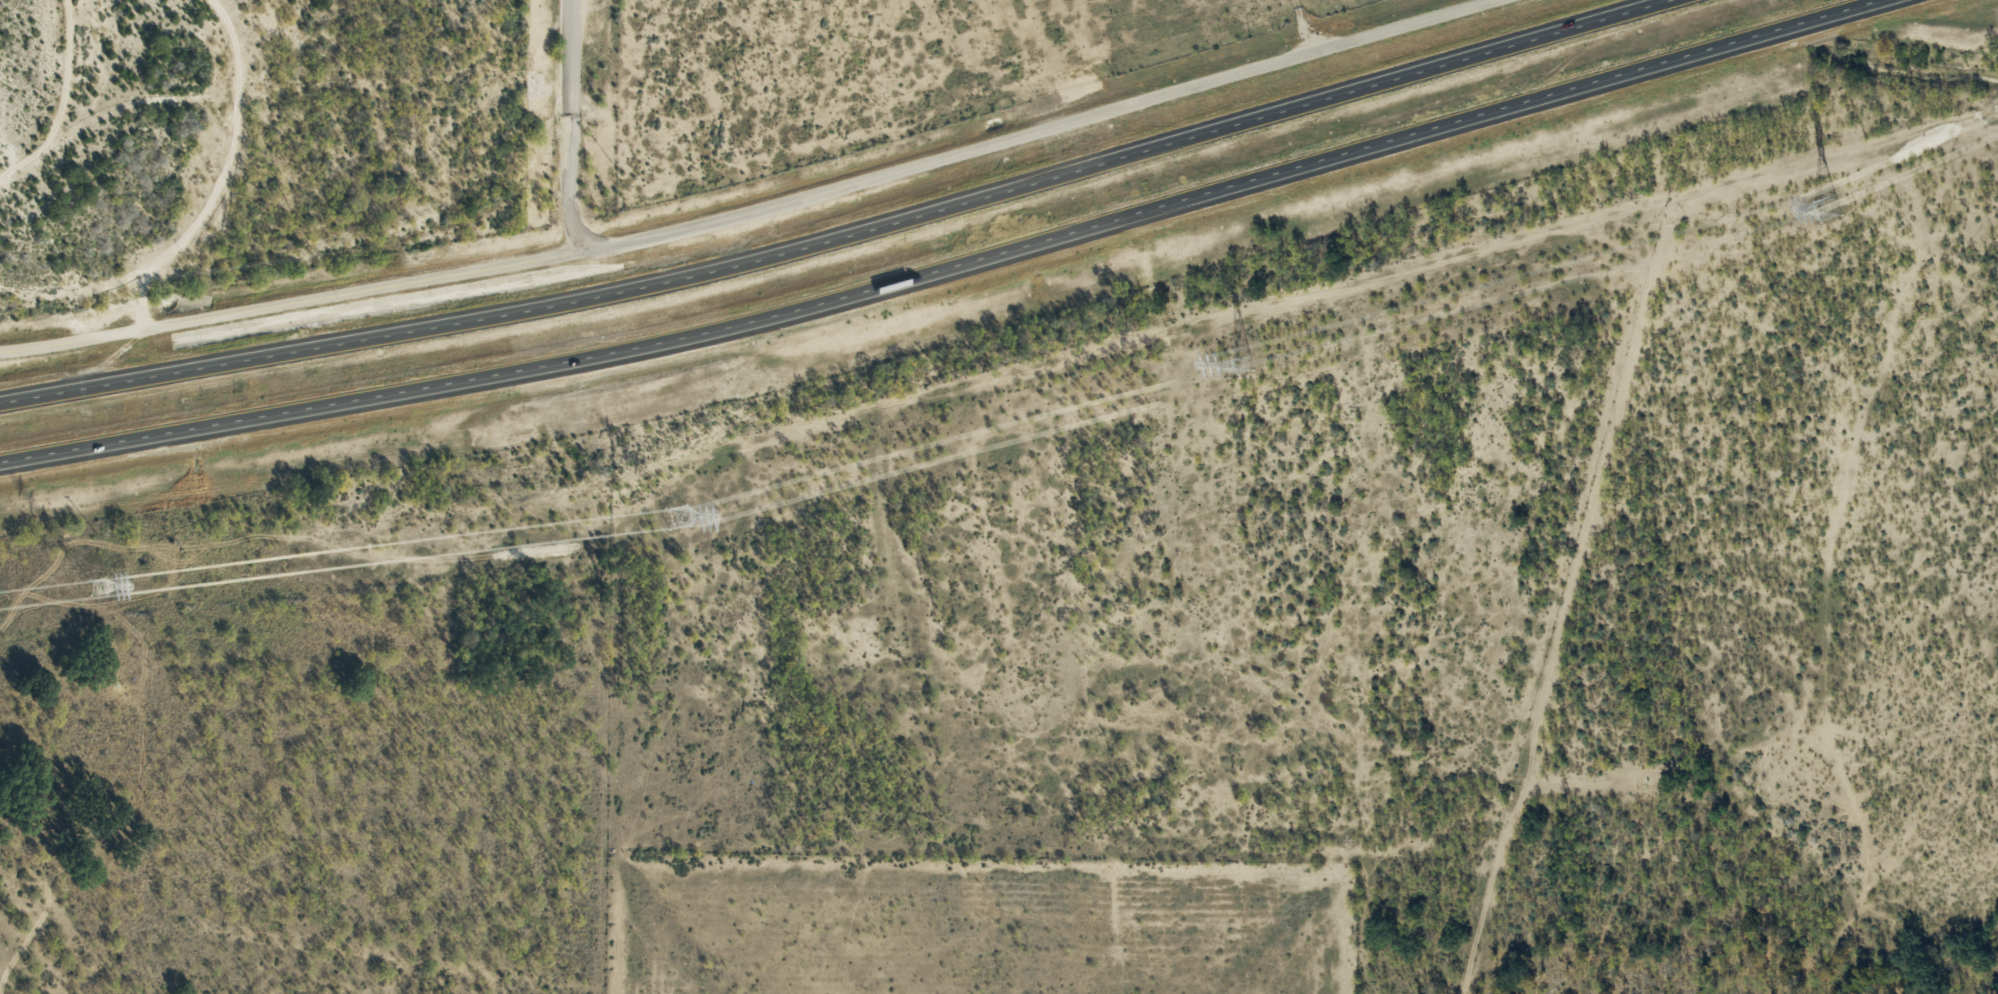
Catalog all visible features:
road: (215, 182)
power tower: (1822, 210)
road: (764, 211)
road: (838, 233)
road: (956, 269)
power tower: (1232, 367)
power tower: (671, 515)
power tower: (92, 585)

